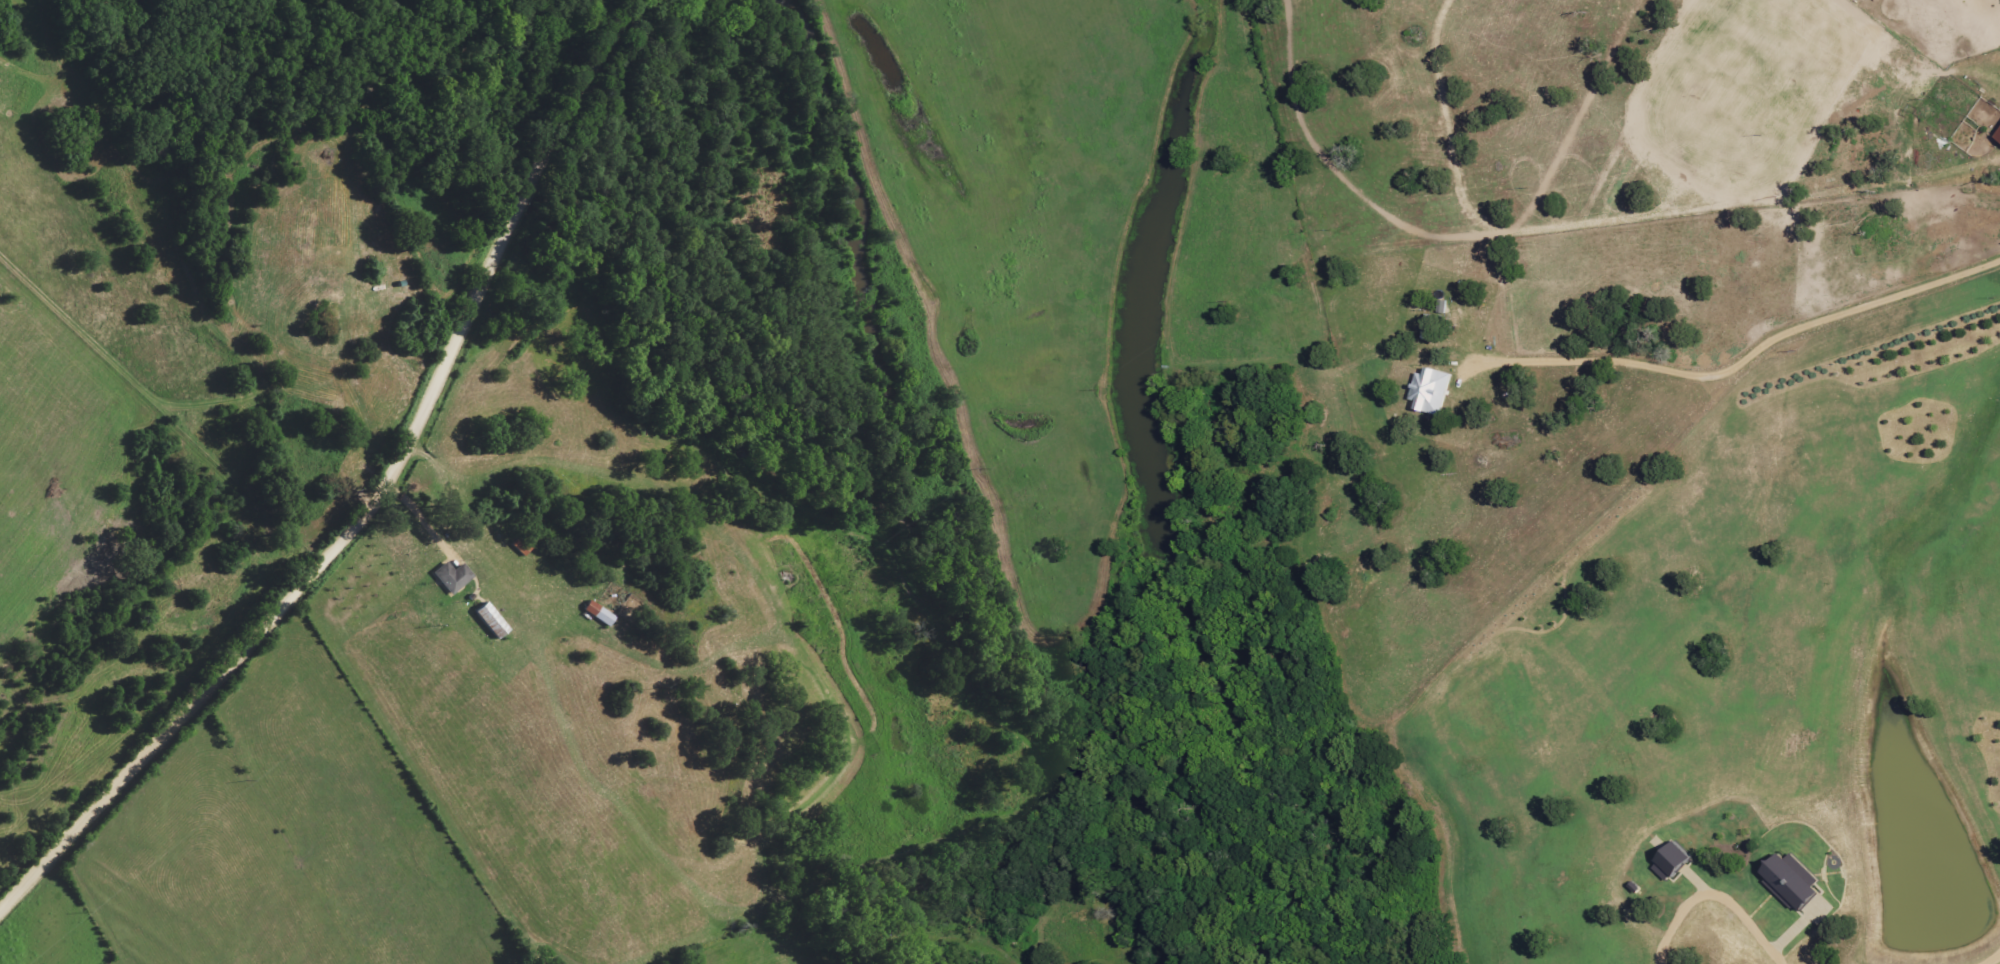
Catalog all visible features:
building: (1999, 138)
building: (1434, 392)
road: (378, 498)
building: (454, 577)
building: (600, 614)
building: (1672, 868)
building: (1793, 884)
road: (1770, 940)
road: (1979, 960)

